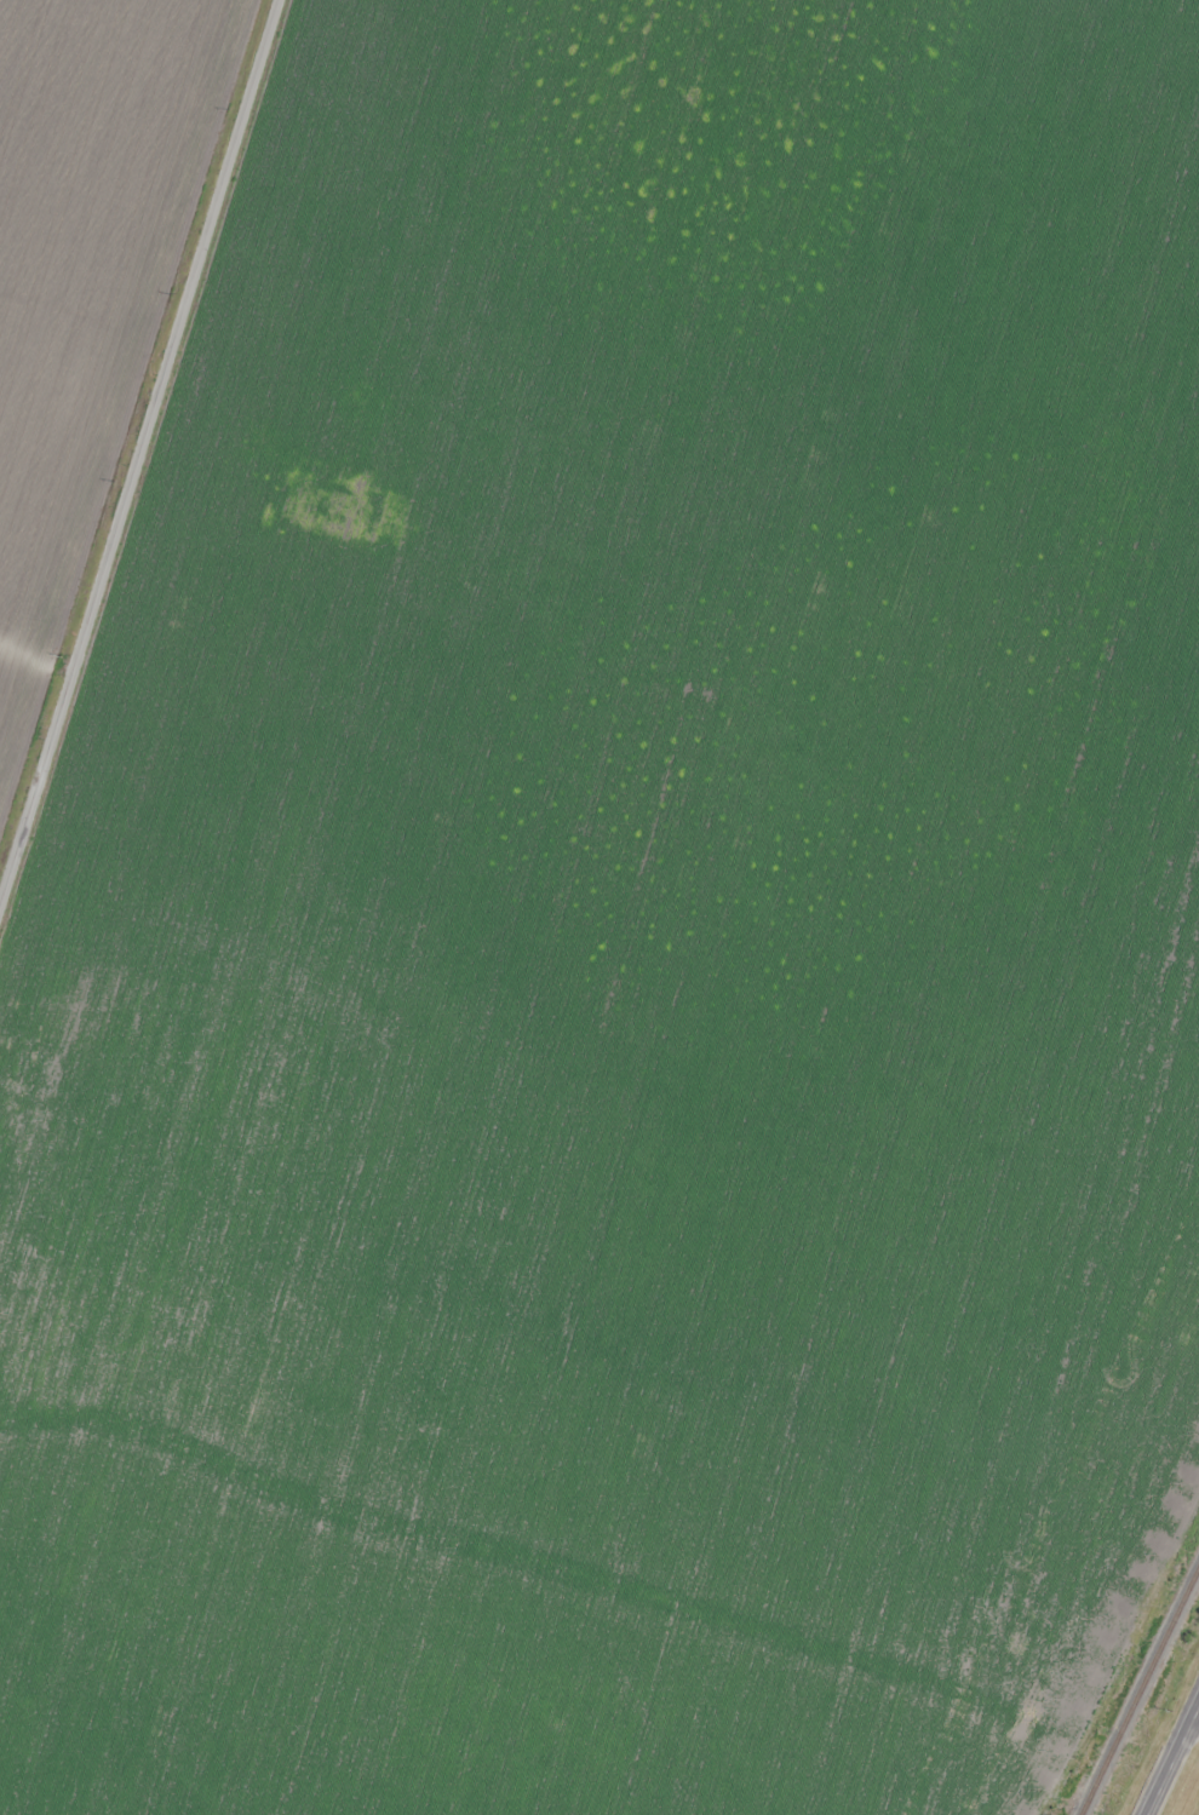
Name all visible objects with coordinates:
road: (147, 461)
railway: (1138, 1689)
road: (1176, 1768)

